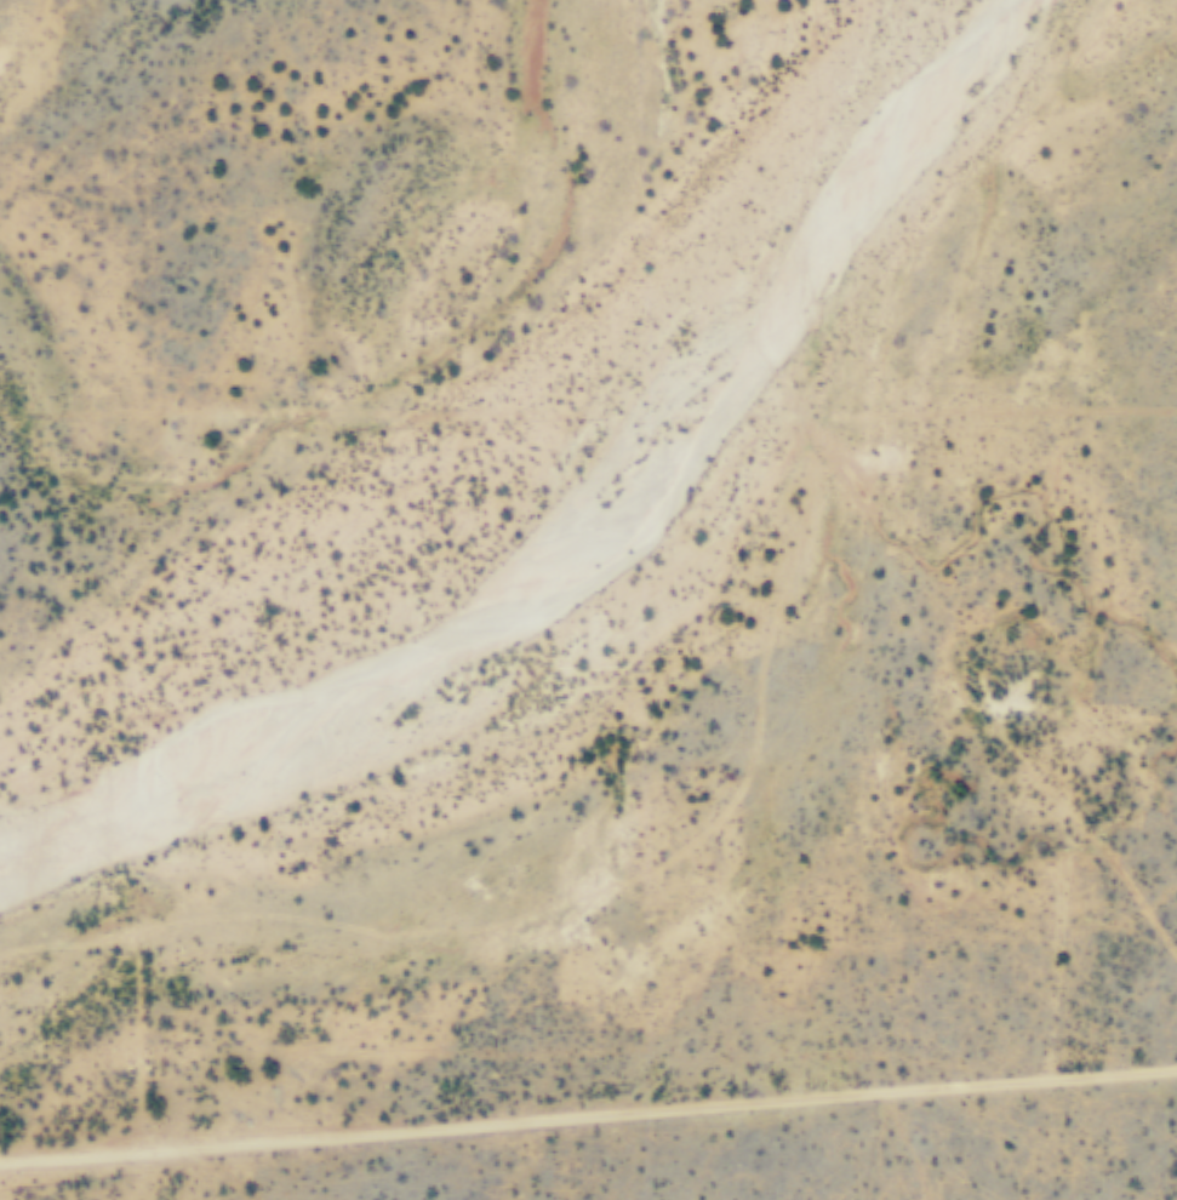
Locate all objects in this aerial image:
road: (588, 1114)

